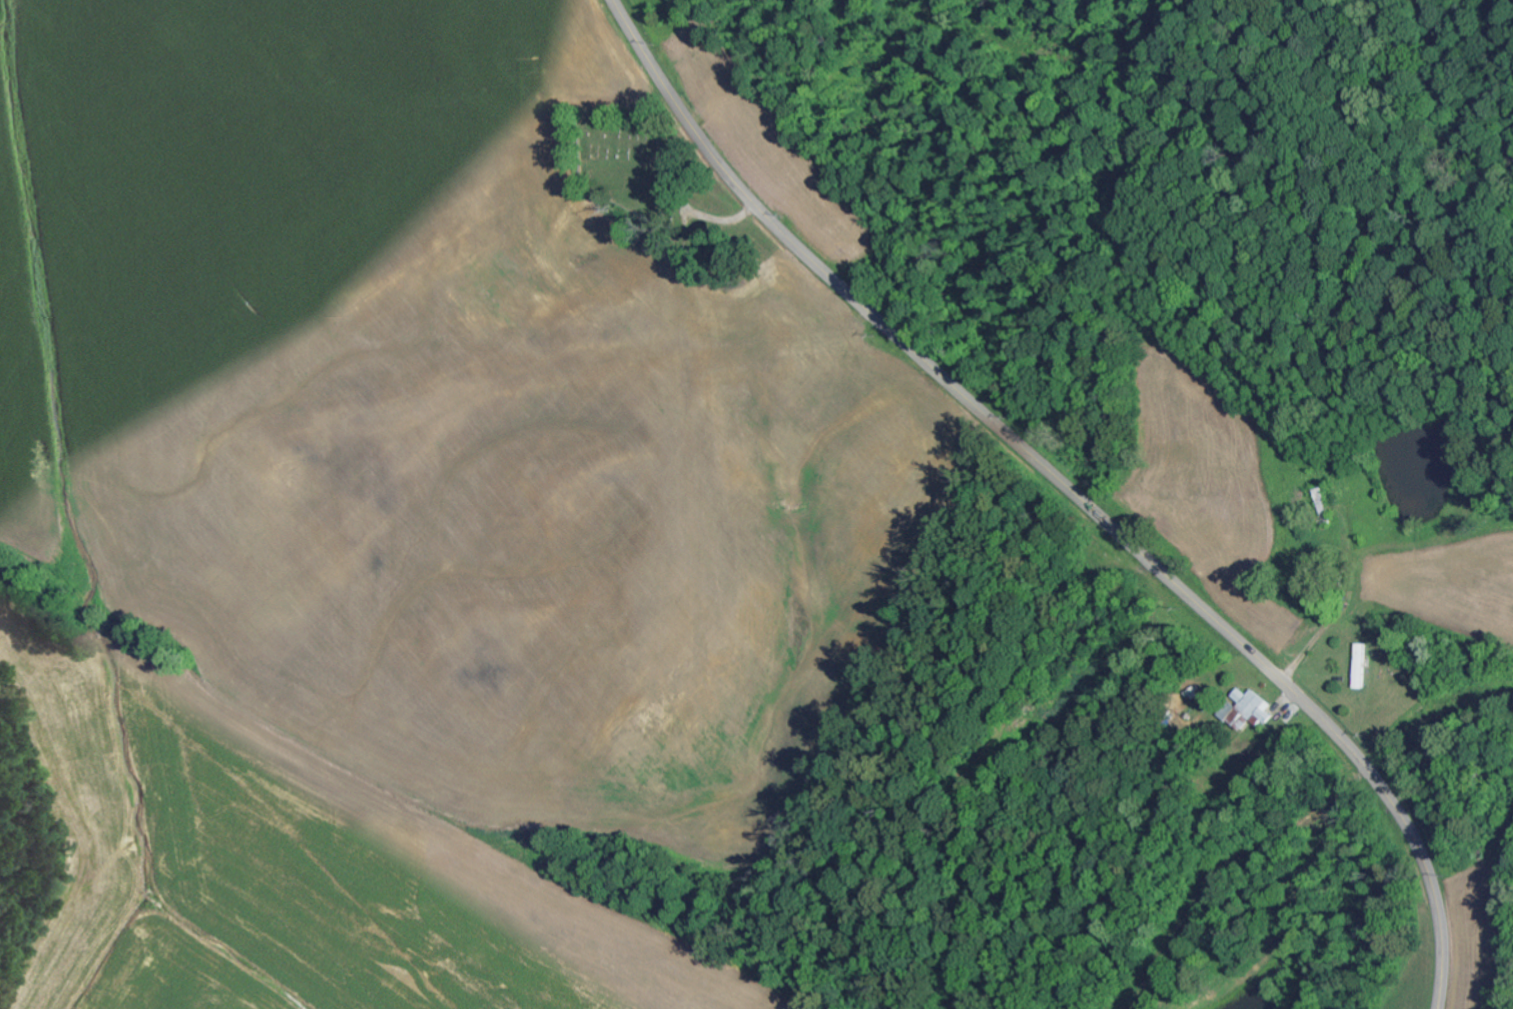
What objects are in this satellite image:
park: (627, 163)
road: (1065, 488)
building: (1247, 709)

